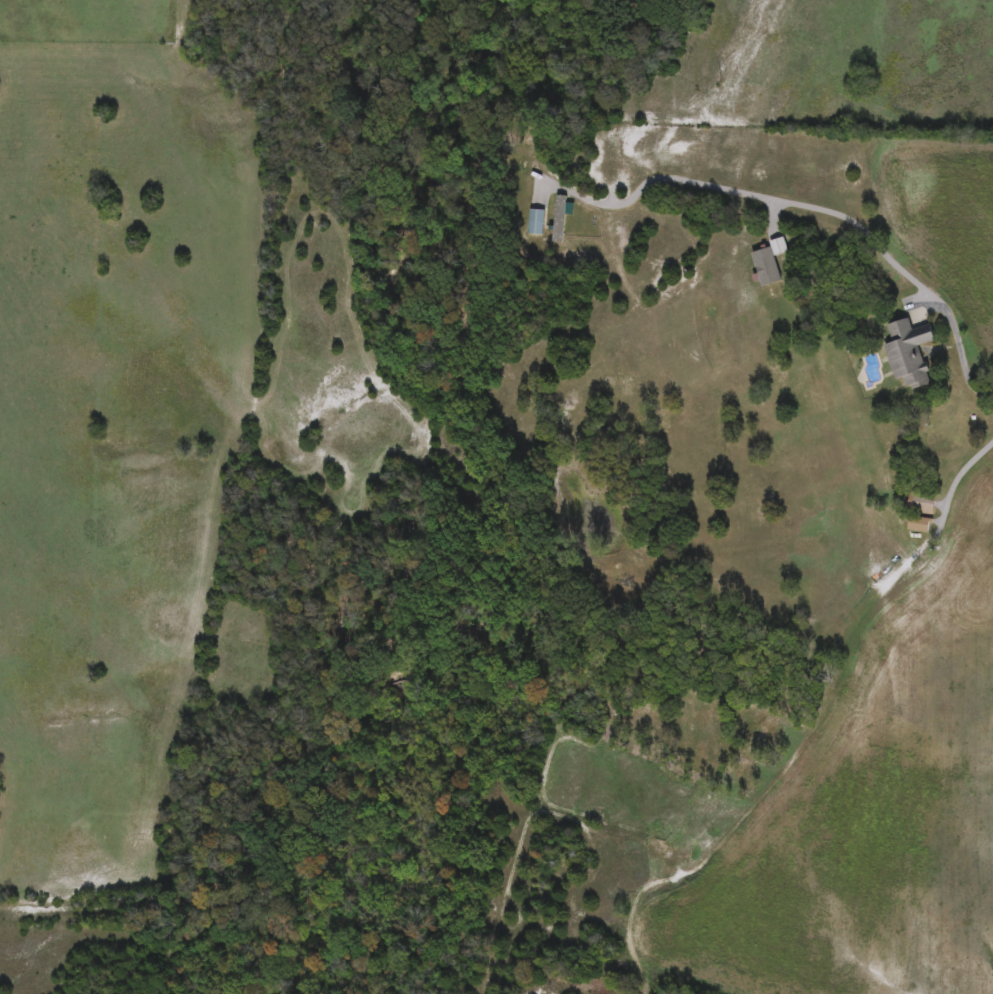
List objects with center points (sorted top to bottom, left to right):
road: (808, 206)
building: (905, 352)
road: (905, 951)

